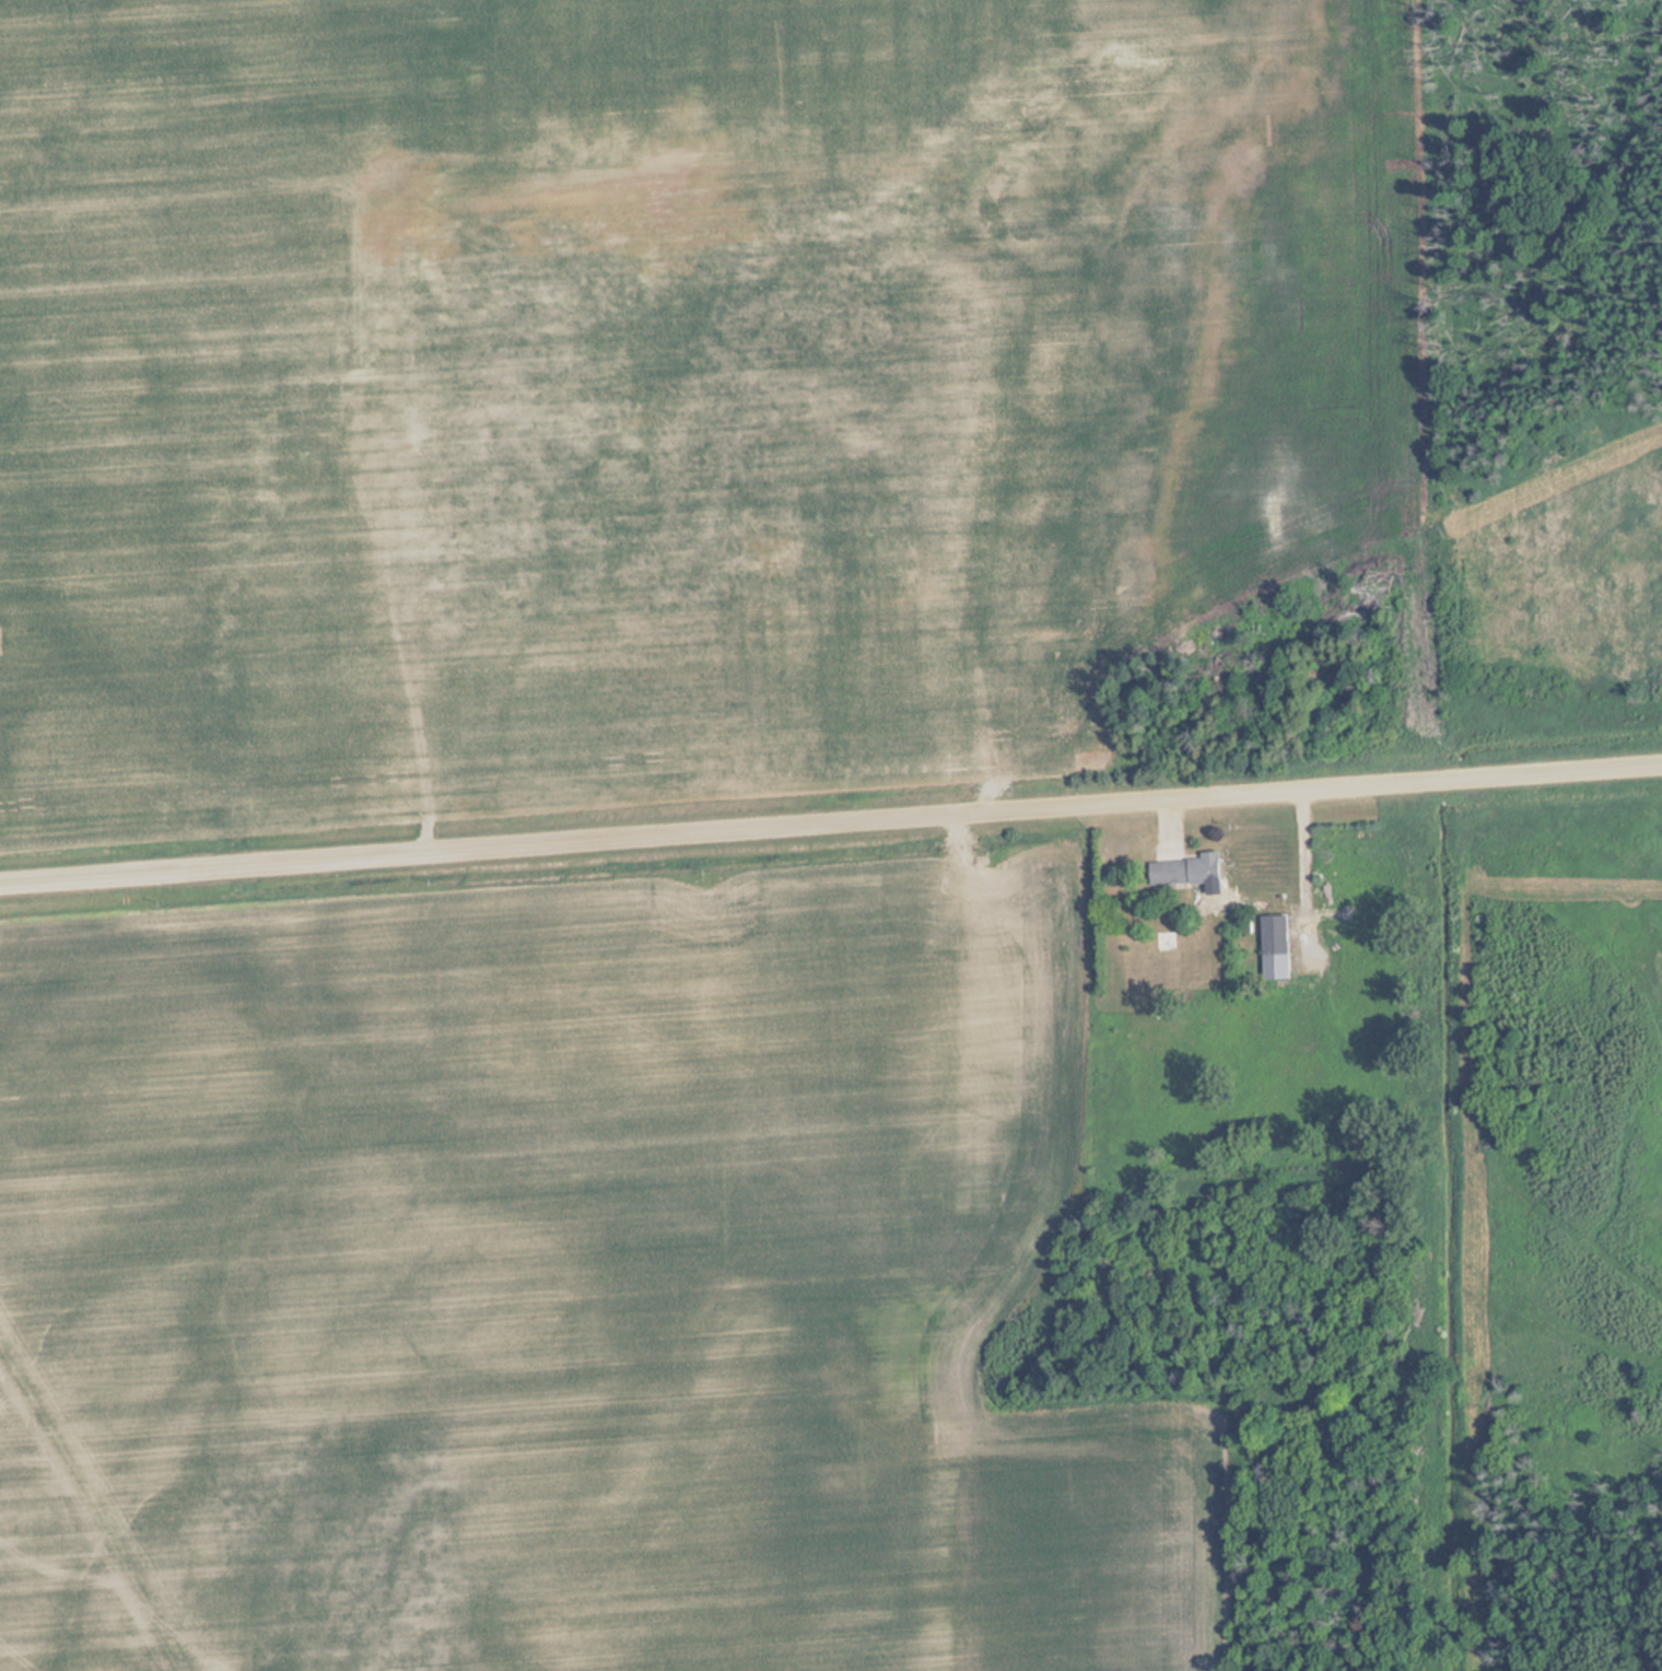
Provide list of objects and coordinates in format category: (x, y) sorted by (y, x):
road: (831, 827)
building: (1185, 870)
building: (1164, 940)
building: (1274, 947)

